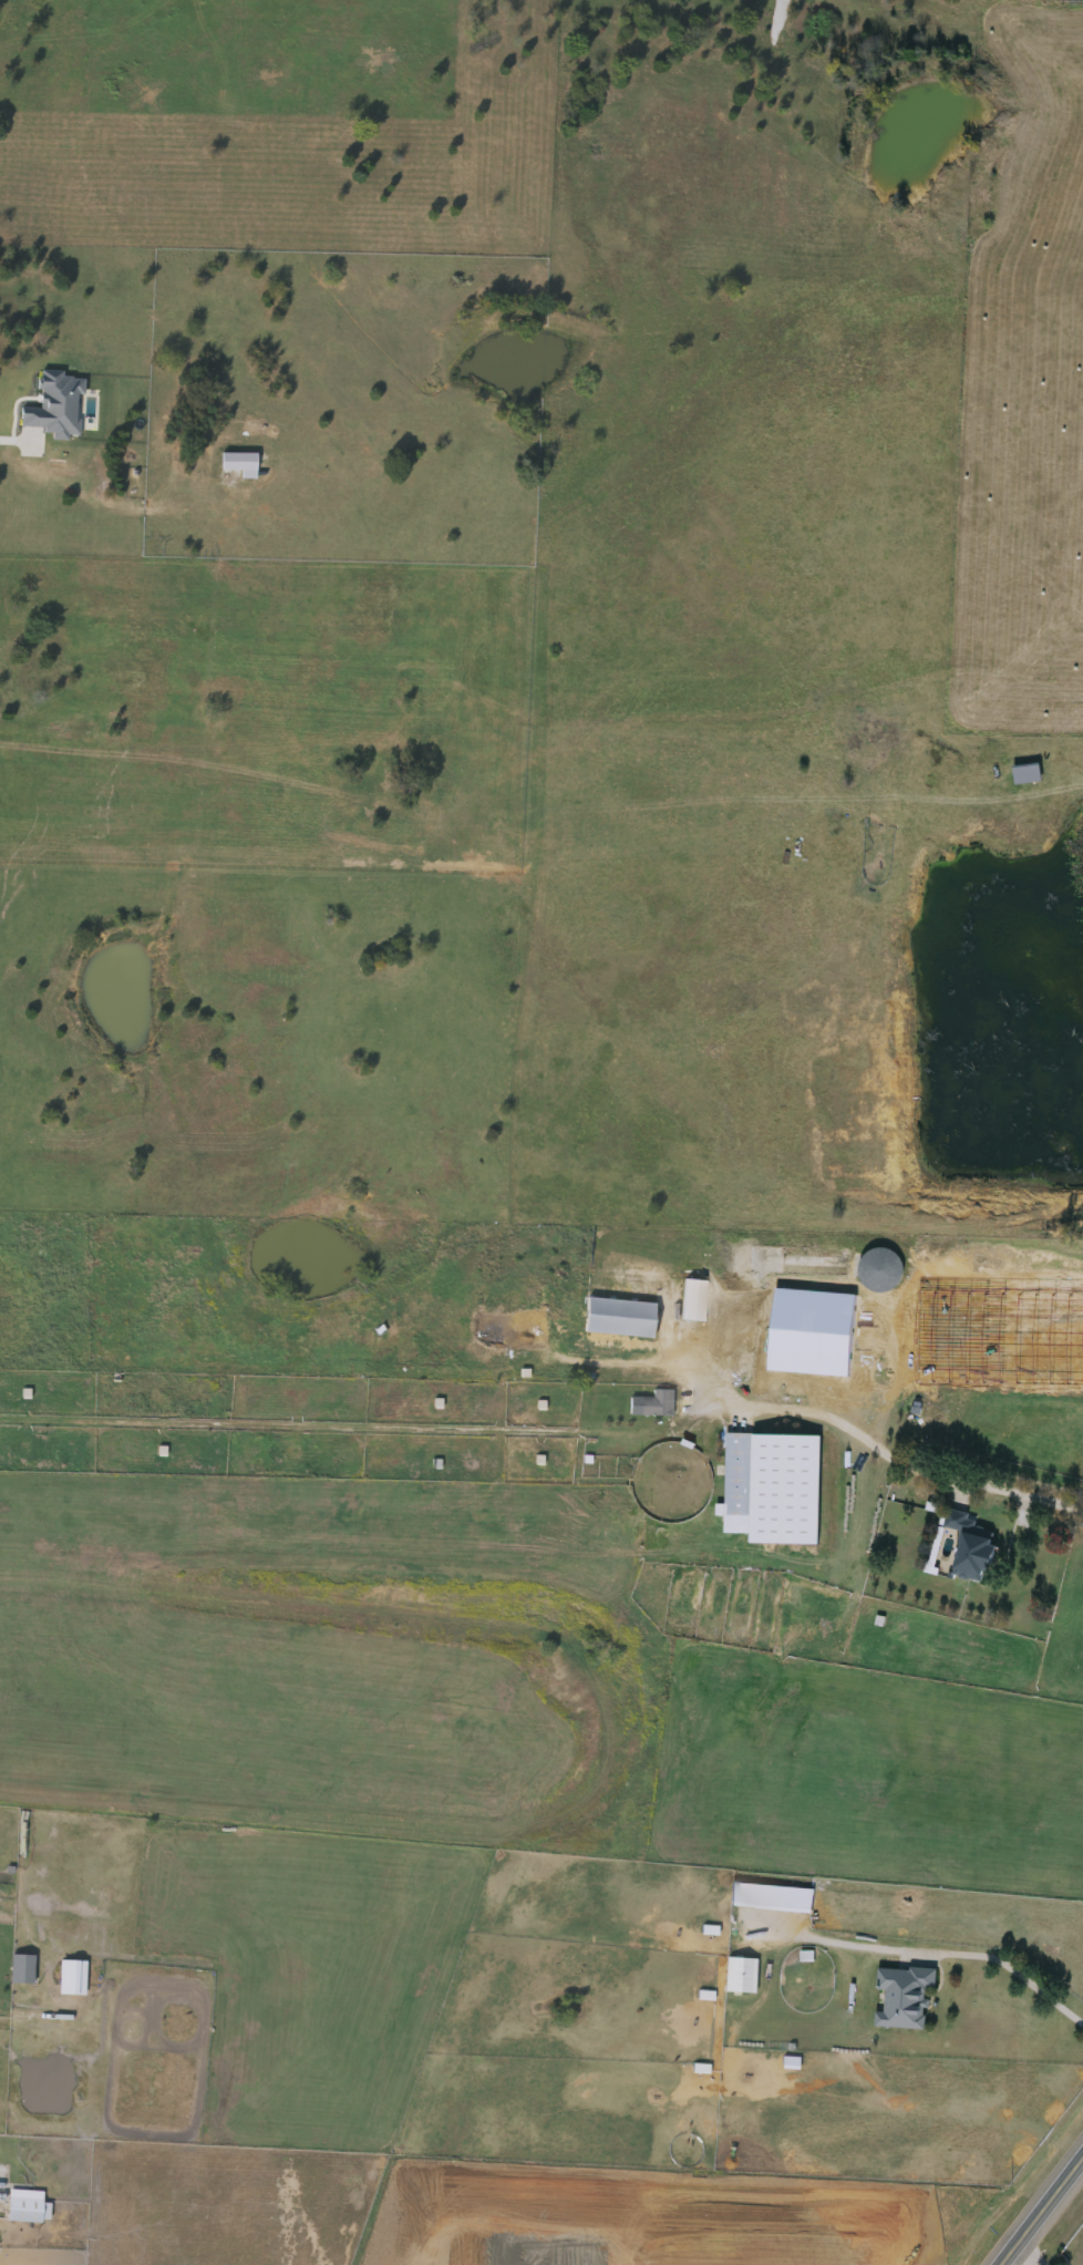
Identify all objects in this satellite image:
road: (11, 444)
building: (881, 1270)
building: (694, 1296)
building: (620, 1318)
building: (653, 1407)
road: (908, 1459)
building: (775, 1494)
building: (971, 1548)
road: (928, 1955)
building: (24, 1970)
building: (741, 1977)
building: (74, 1979)
building: (904, 1998)
road: (1038, 2206)
building: (27, 2211)
road: (1034, 2247)

